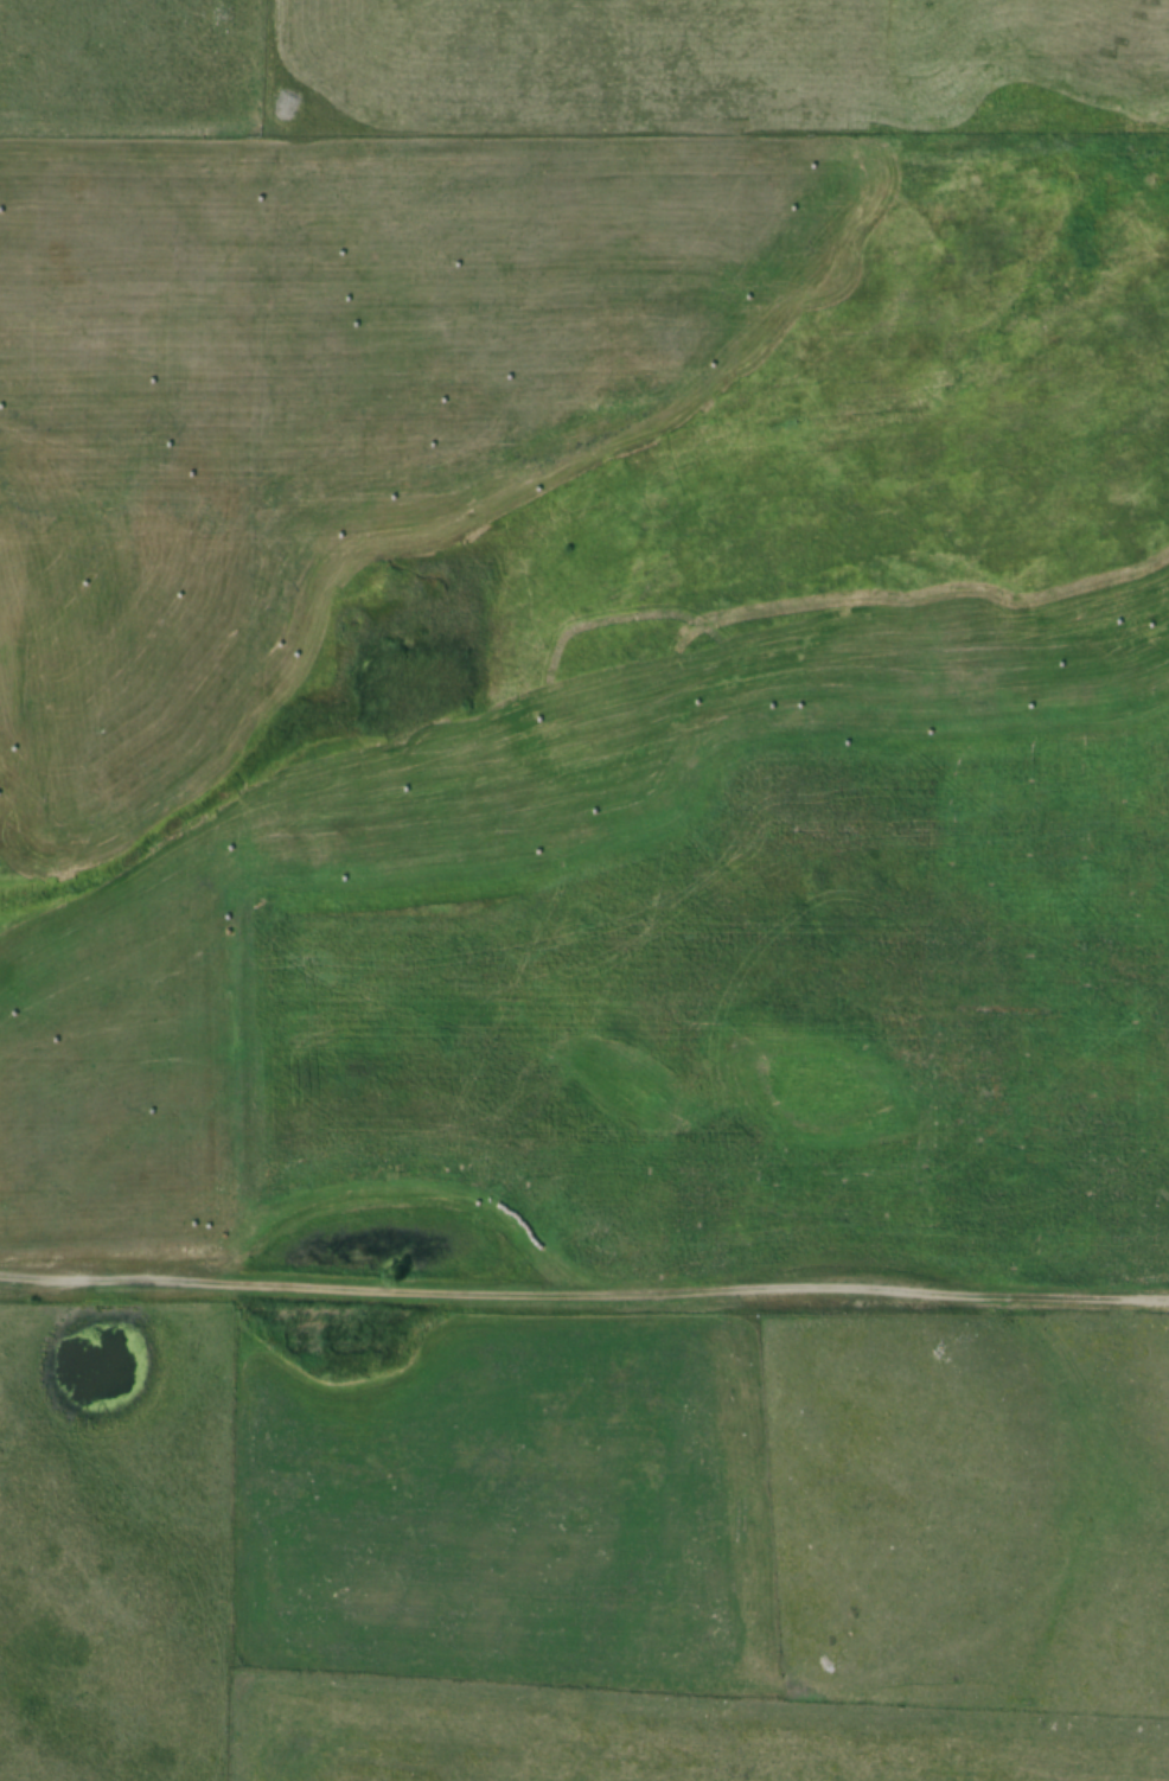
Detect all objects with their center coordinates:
road: (584, 1294)

